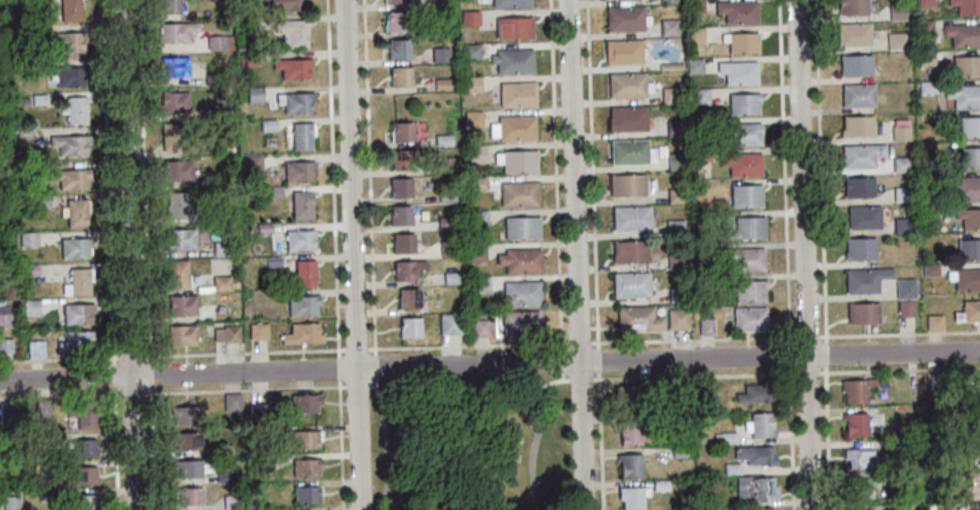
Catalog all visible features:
building: (395, 1)
building: (669, 1)
building: (437, 3)
building: (509, 3)
building: (925, 3)
building: (287, 4)
building: (697, 5)
building: (170, 6)
building: (855, 6)
building: (966, 7)
building: (70, 10)
building: (739, 11)
building: (896, 12)
building: (1, 16)
building: (469, 18)
building: (627, 19)
building: (397, 22)
building: (513, 27)
building: (670, 27)
building: (924, 27)
building: (439, 28)
building: (22, 32)
building: (176, 32)
building: (293, 32)
building: (697, 34)
building: (854, 34)
building: (963, 35)
building: (896, 41)
building: (743, 42)
building: (69, 43)
building: (219, 43)
building: (398, 49)
building: (470, 51)
building: (625, 53)
building: (439, 55)
building: (925, 57)
building: (247, 59)
building: (513, 60)
building: (38, 65)
building: (695, 65)
building: (855, 65)
building: (672, 66)
building: (966, 66)
building: (293, 67)
building: (174, 68)
building: (740, 71)
building: (68, 75)
building: (400, 77)
building: (213, 79)
building: (441, 84)
building: (471, 84)
building: (629, 85)
building: (927, 87)
building: (255, 94)
building: (517, 94)
building: (671, 95)
building: (858, 95)
building: (701, 96)
building: (964, 96)
building: (38, 100)
building: (296, 101)
building: (173, 103)
building: (745, 103)
building: (77, 111)
building: (209, 114)
building: (629, 118)
building: (473, 120)
building: (710, 122)
building: (267, 125)
building: (857, 126)
building: (513, 127)
building: (676, 127)
building: (970, 127)
building: (900, 130)
building: (402, 131)
building: (25, 133)
building: (747, 133)
building: (303, 135)
building: (172, 136)
building: (442, 140)
building: (69, 144)
building: (632, 152)
building: (475, 154)
building: (701, 155)
building: (861, 155)
building: (966, 157)
building: (402, 160)
building: (676, 160)
building: (516, 161)
building: (252, 162)
building: (744, 164)
building: (900, 164)
building: (444, 166)
building: (177, 170)
building: (298, 170)
road: (556, 176)
building: (71, 178)
building: (219, 178)
road: (369, 178)
road: (333, 179)
road: (108, 182)
road: (144, 182)
building: (477, 183)
building: (629, 185)
building: (858, 187)
building: (400, 188)
building: (966, 188)
building: (274, 192)
building: (518, 194)
building: (677, 194)
building: (901, 194)
building: (747, 195)
building: (446, 196)
building: (40, 202)
building: (301, 204)
building: (176, 206)
building: (931, 208)
building: (77, 212)
building: (400, 215)
building: (226, 217)
building: (864, 217)
building: (478, 218)
building: (633, 218)
building: (705, 218)
building: (969, 218)
building: (3, 221)
building: (446, 222)
building: (902, 225)
building: (676, 226)
building: (263, 228)
building: (521, 228)
building: (748, 228)
building: (180, 238)
building: (30, 239)
building: (300, 239)
building: (403, 243)
building: (707, 246)
building: (76, 247)
building: (223, 248)
building: (447, 248)
building: (860, 249)
building: (968, 249)
building: (631, 251)
building: (476, 252)
road: (823, 254)
road: (127, 255)
road: (353, 255)
road: (576, 255)
road: (595, 255)
road: (787, 255)
road: (803, 255)
building: (677, 259)
building: (748, 259)
building: (520, 260)
building: (274, 261)
building: (930, 269)
building: (407, 270)
building: (29, 271)
building: (305, 273)
building: (177, 274)
building: (450, 278)
building: (866, 279)
building: (967, 279)
building: (706, 280)
building: (77, 282)
building: (479, 283)
building: (222, 284)
building: (234, 284)
building: (632, 285)
building: (904, 288)
building: (751, 291)
building: (521, 293)
building: (678, 293)
building: (247, 298)
building: (408, 299)
building: (182, 305)
building: (303, 305)
building: (30, 308)
building: (905, 308)
building: (968, 311)
building: (78, 313)
building: (862, 313)
building: (679, 318)
building: (751, 318)
building: (640, 319)
building: (6, 320)
building: (449, 323)
building: (520, 323)
building: (934, 323)
building: (409, 327)
building: (480, 327)
building: (707, 327)
building: (258, 331)
building: (227, 333)
building: (302, 333)
building: (181, 335)
building: (77, 341)
road: (673, 343)
building: (6, 345)
building: (37, 348)
road: (357, 352)
road: (244, 355)
road: (132, 359)
road: (61, 361)
road: (562, 364)
road: (489, 365)
road: (375, 368)
road: (340, 370)
road: (114, 376)
road: (150, 376)
road: (756, 376)
road: (562, 378)
road: (375, 382)
building: (936, 382)
road: (371, 386)
building: (705, 387)
building: (976, 387)
road: (357, 388)
building: (681, 388)
road: (464, 390)
building: (857, 390)
road: (245, 391)
building: (756, 393)
road: (131, 394)
road: (377, 396)
road: (60, 397)
building: (631, 397)
building: (231, 402)
building: (305, 402)
building: (466, 406)
building: (42, 407)
building: (6, 410)
building: (258, 412)
building: (83, 415)
building: (186, 415)
building: (978, 418)
building: (656, 419)
building: (855, 424)
building: (761, 425)
building: (629, 432)
building: (263, 434)
building: (727, 437)
building: (306, 439)
building: (186, 440)
building: (41, 442)
road: (341, 446)
park: (472, 447)
building: (83, 448)
road: (115, 448)
road: (151, 448)
building: (976, 448)
building: (223, 449)
building: (678, 452)
building: (755, 455)
building: (861, 458)
building: (264, 460)
building: (629, 465)
building: (306, 466)
building: (190, 468)
building: (731, 469)
building: (83, 475)
building: (973, 476)
building: (224, 477)
building: (659, 486)
building: (754, 488)
building: (928, 488)
building: (858, 489)
building: (307, 494)
building: (46, 496)
building: (189, 496)
building: (631, 497)
building: (84, 502)
building: (232, 502)
building: (10, 503)
building: (978, 506)
building: (929, 507)
building: (762, 509)

